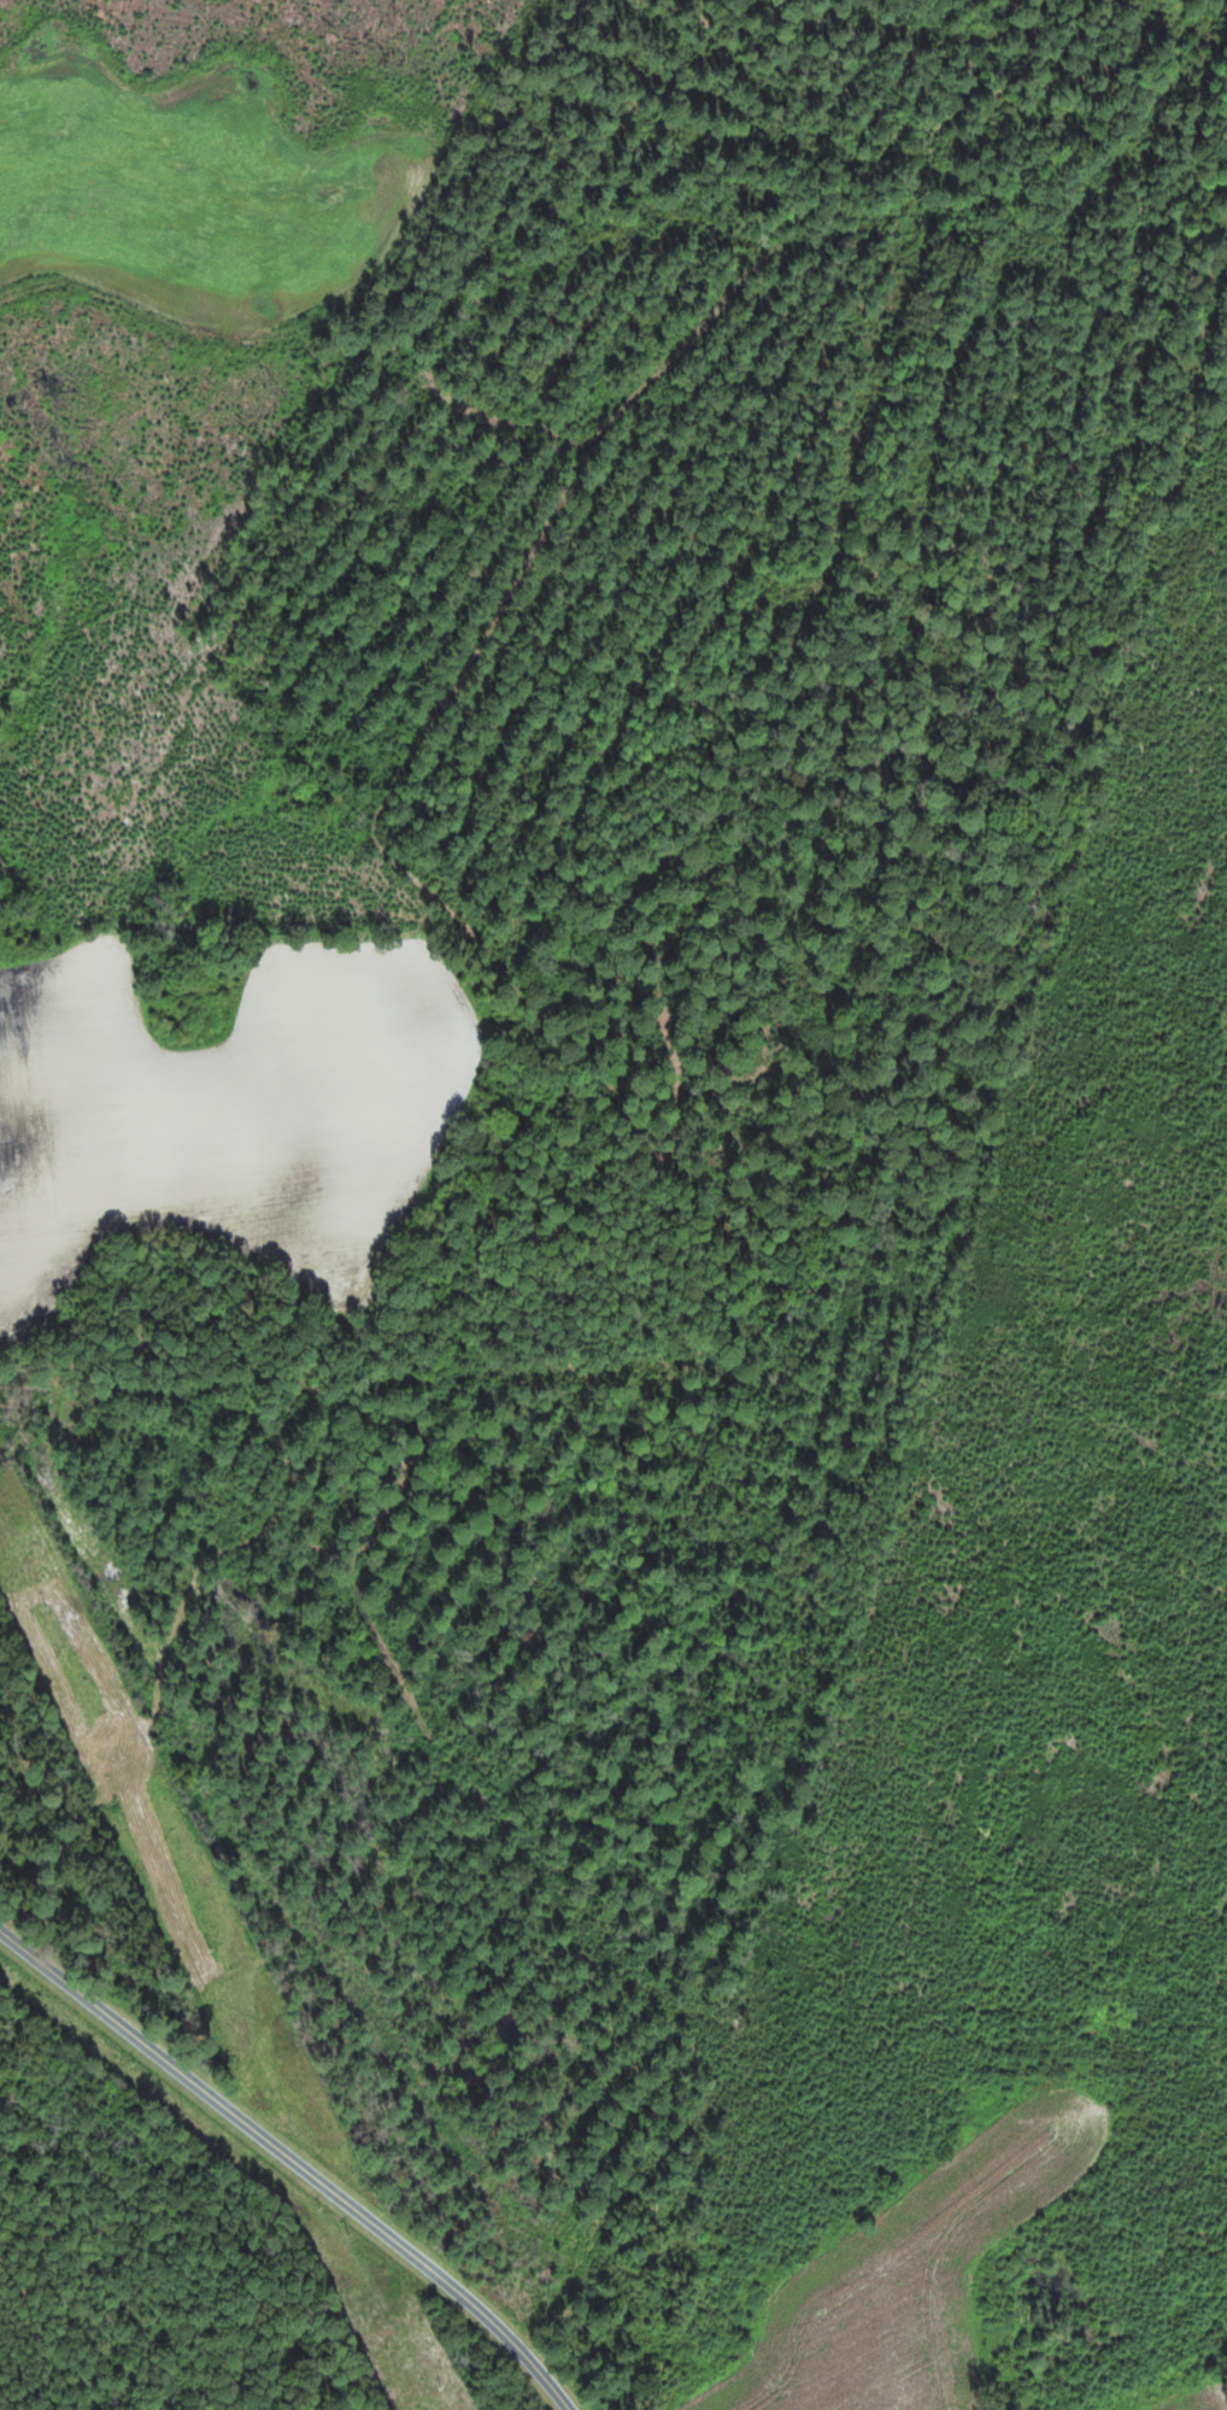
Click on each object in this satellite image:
road: (293, 2158)

